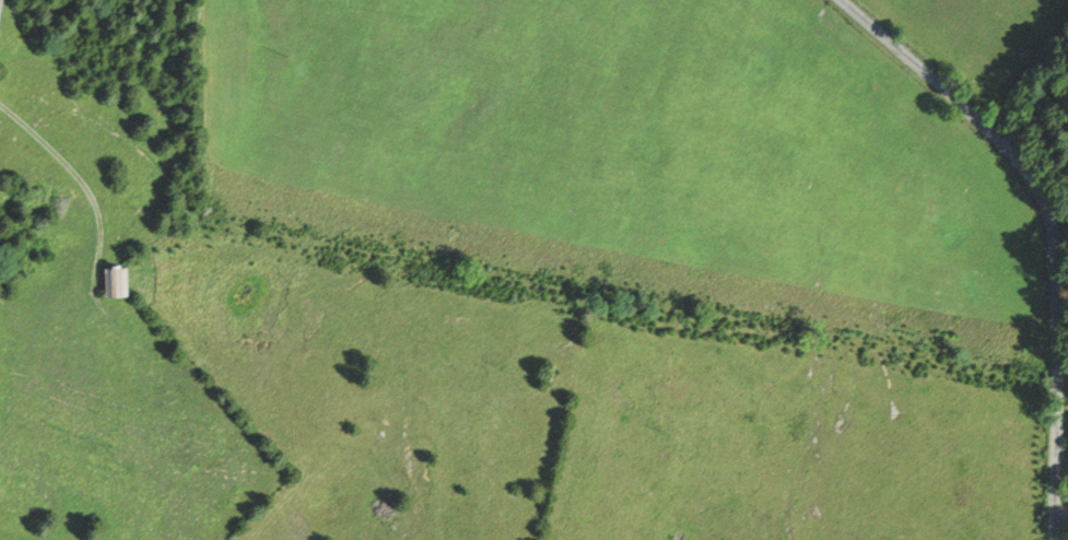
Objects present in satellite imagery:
road: (1033, 103)
road: (86, 189)
road: (1053, 227)
building: (120, 282)
road: (1063, 509)

